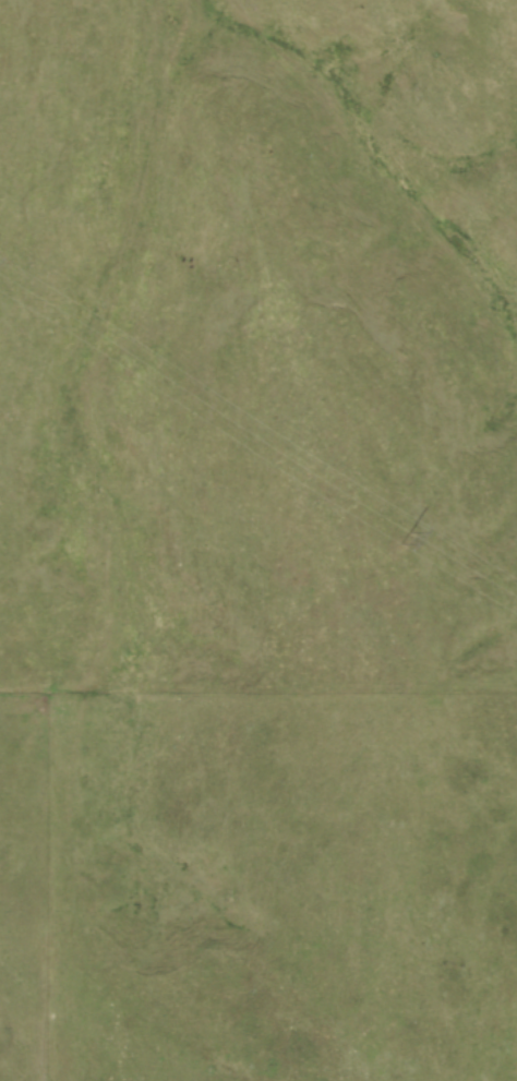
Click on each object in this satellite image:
power tower: (404, 540)

